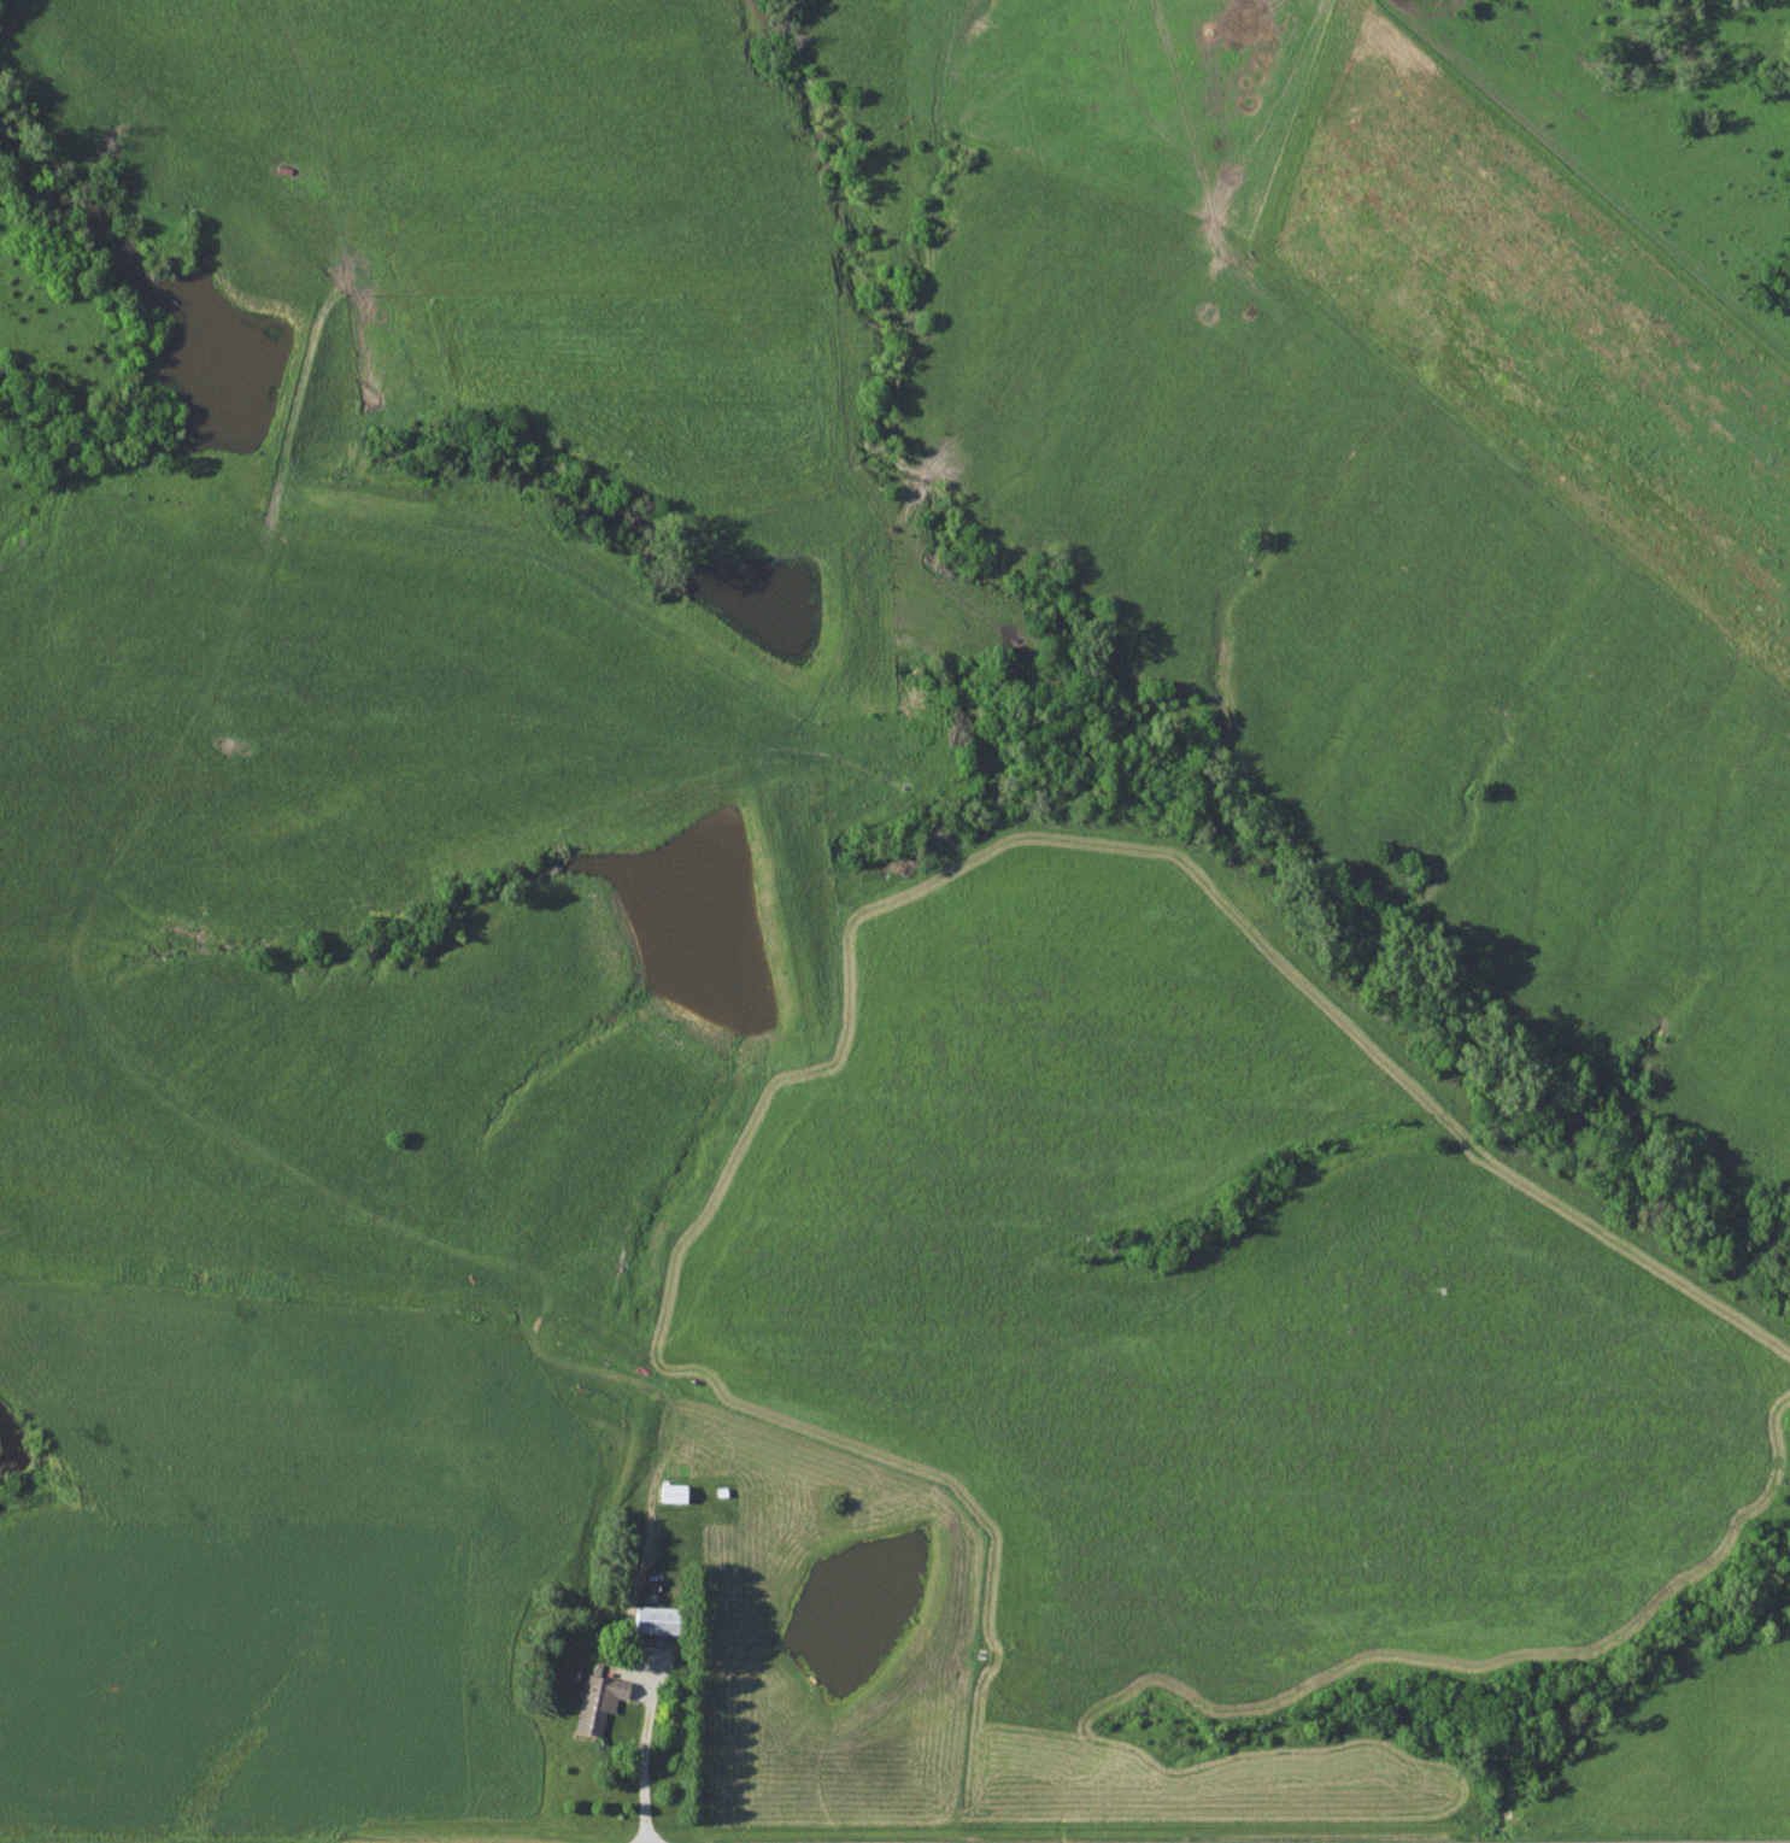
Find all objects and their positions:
building: (673, 1493)
building: (656, 1620)
building: (598, 1703)

